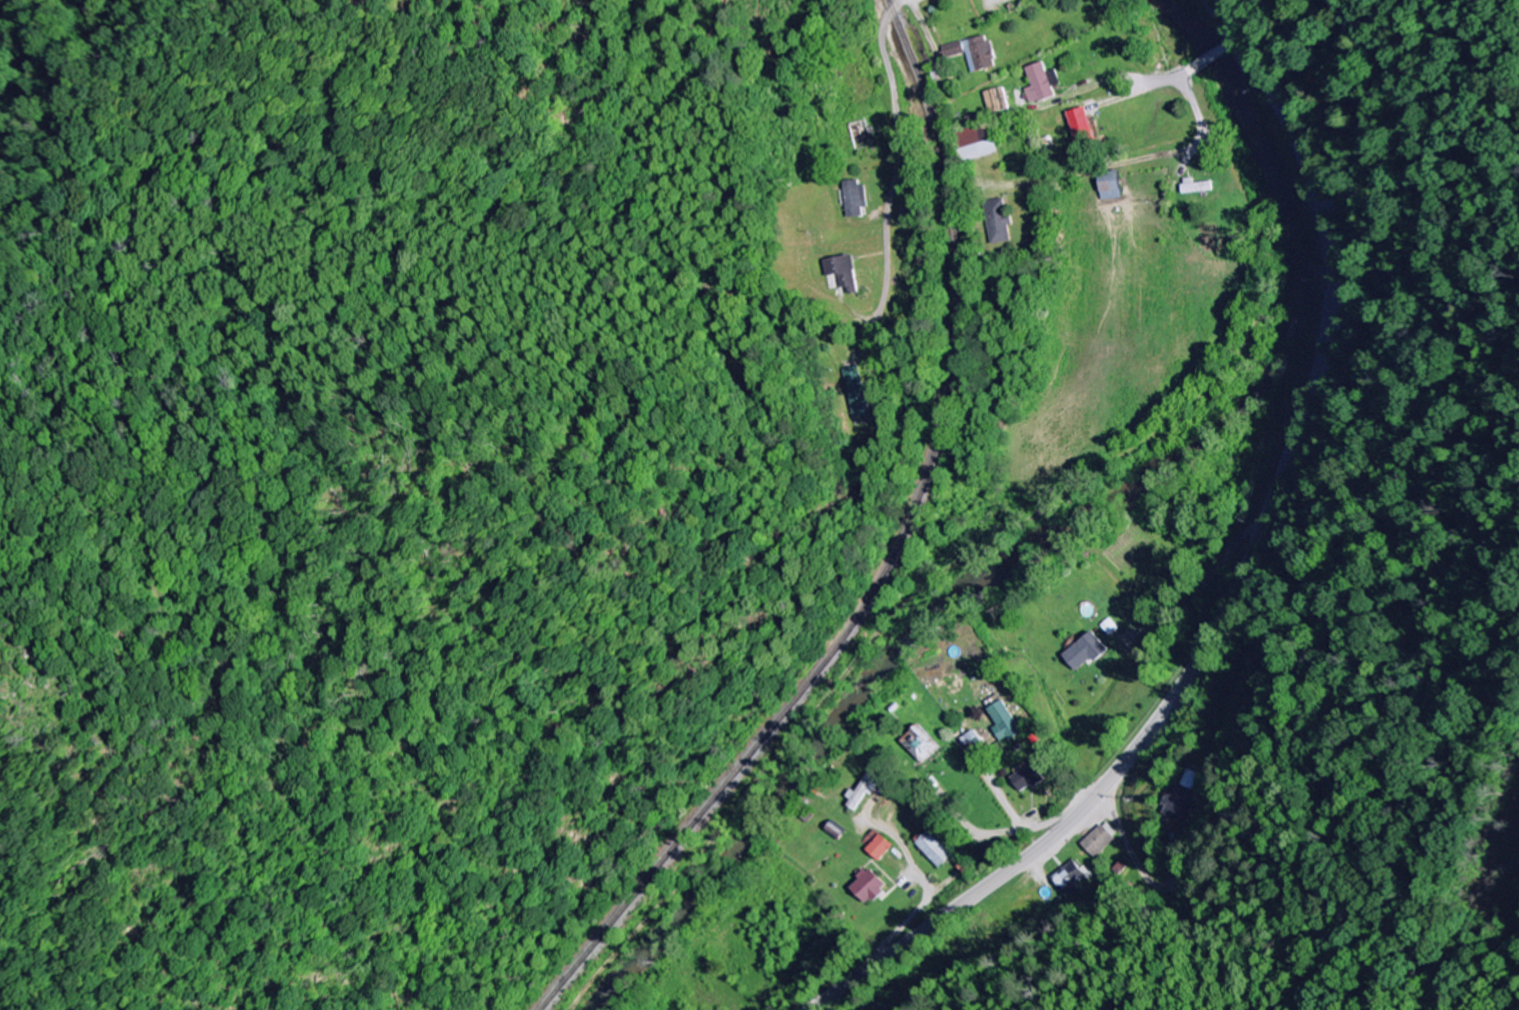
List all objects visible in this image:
building: (974, 54)
building: (1040, 85)
building: (997, 102)
building: (1082, 126)
road: (1199, 126)
building: (978, 144)
road: (898, 160)
road: (1050, 178)
building: (1112, 187)
building: (1197, 187)
building: (856, 200)
building: (999, 223)
building: (842, 275)
building: (857, 394)
railway: (923, 563)
road: (1237, 575)
building: (1087, 653)
building: (1005, 723)
building: (1028, 779)
building: (1190, 780)
building: (863, 793)
building: (1179, 804)
building: (1098, 843)
building: (877, 846)
building: (935, 851)
building: (1070, 877)
building: (869, 888)

